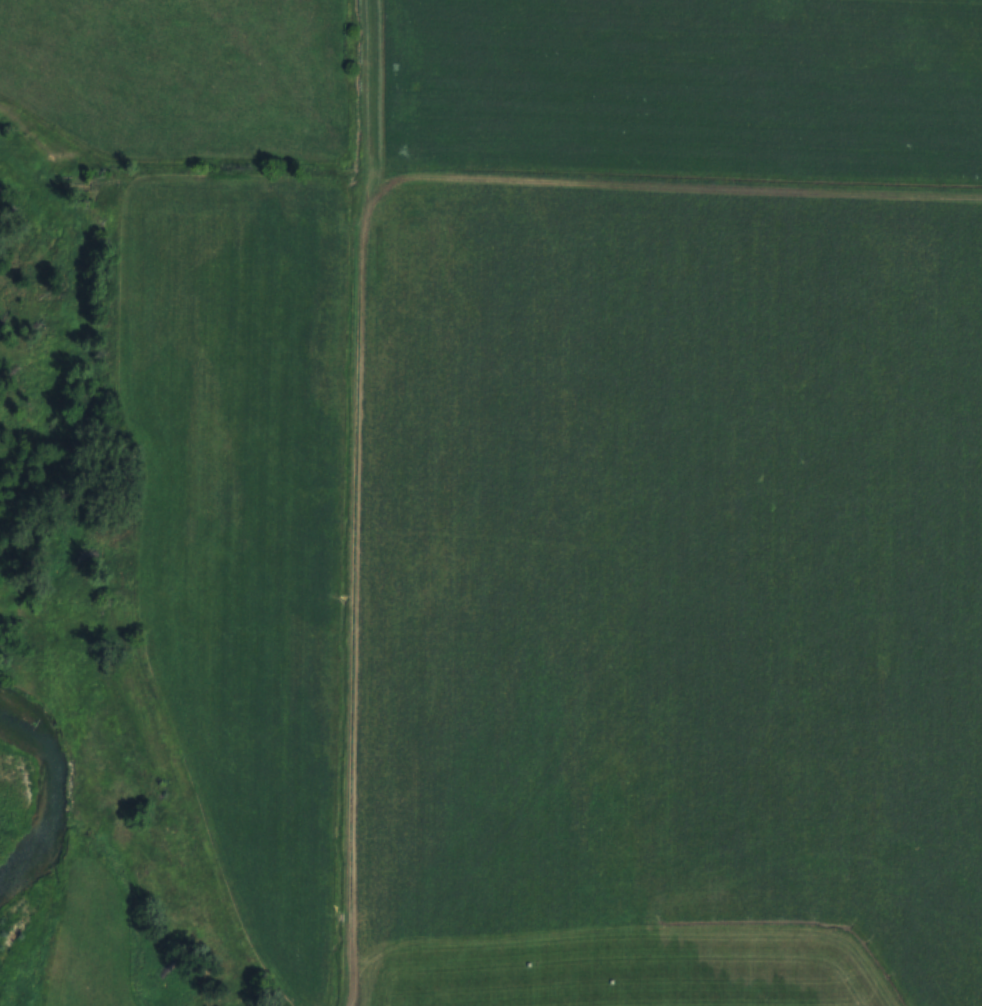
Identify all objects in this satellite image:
river: (49, 807)

